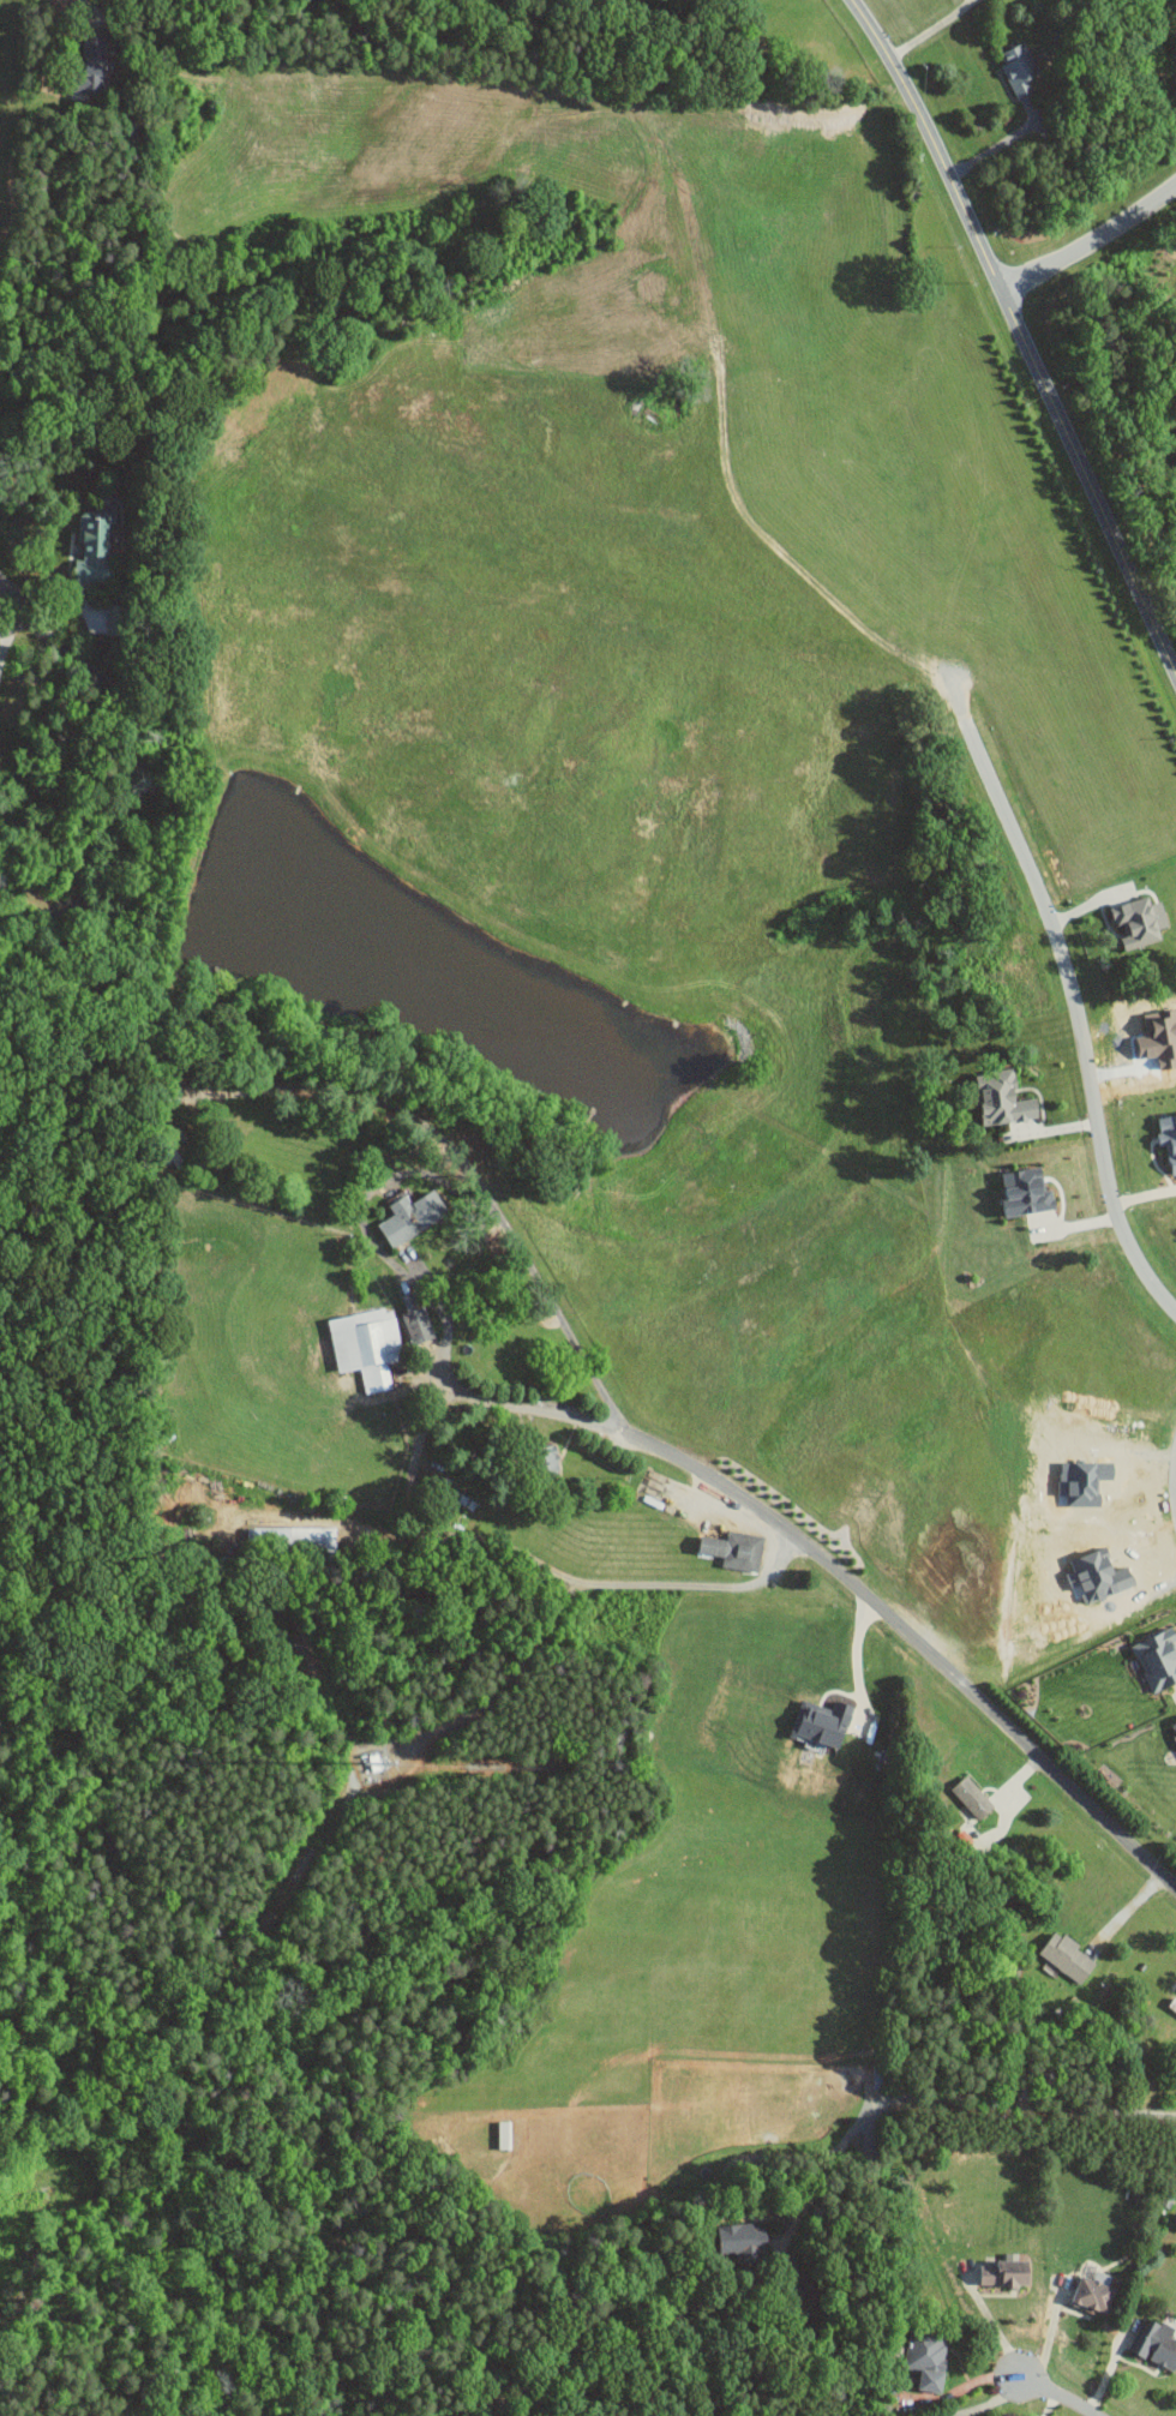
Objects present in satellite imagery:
road: (86, 6)
road: (930, 29)
building: (91, 61)
building: (1018, 67)
road: (1002, 142)
road: (1090, 241)
road: (1020, 334)
building: (1175, 438)
building: (92, 548)
building: (112, 619)
road: (4, 639)
road: (125, 766)
building: (1139, 922)
road: (1081, 1026)
road: (361, 1093)
building: (1002, 1099)
building: (172, 1139)
building: (1168, 1139)
building: (1026, 1193)
building: (410, 1217)
road: (410, 1279)
building: (418, 1324)
building: (366, 1344)
road: (1175, 1475)
building: (734, 1548)
road: (541, 1561)
building: (1098, 1575)
road: (857, 1657)
building: (1157, 1657)
road: (984, 1708)
building: (822, 1721)
building: (1174, 1727)
building: (972, 1795)
building: (1066, 1955)
road: (950, 2100)
building: (743, 2240)
building: (1006, 2272)
building: (1093, 2295)
road: (990, 2320)
road: (1048, 2337)
building: (1154, 2343)
building: (928, 2356)
road: (1055, 2394)
road: (986, 2404)

